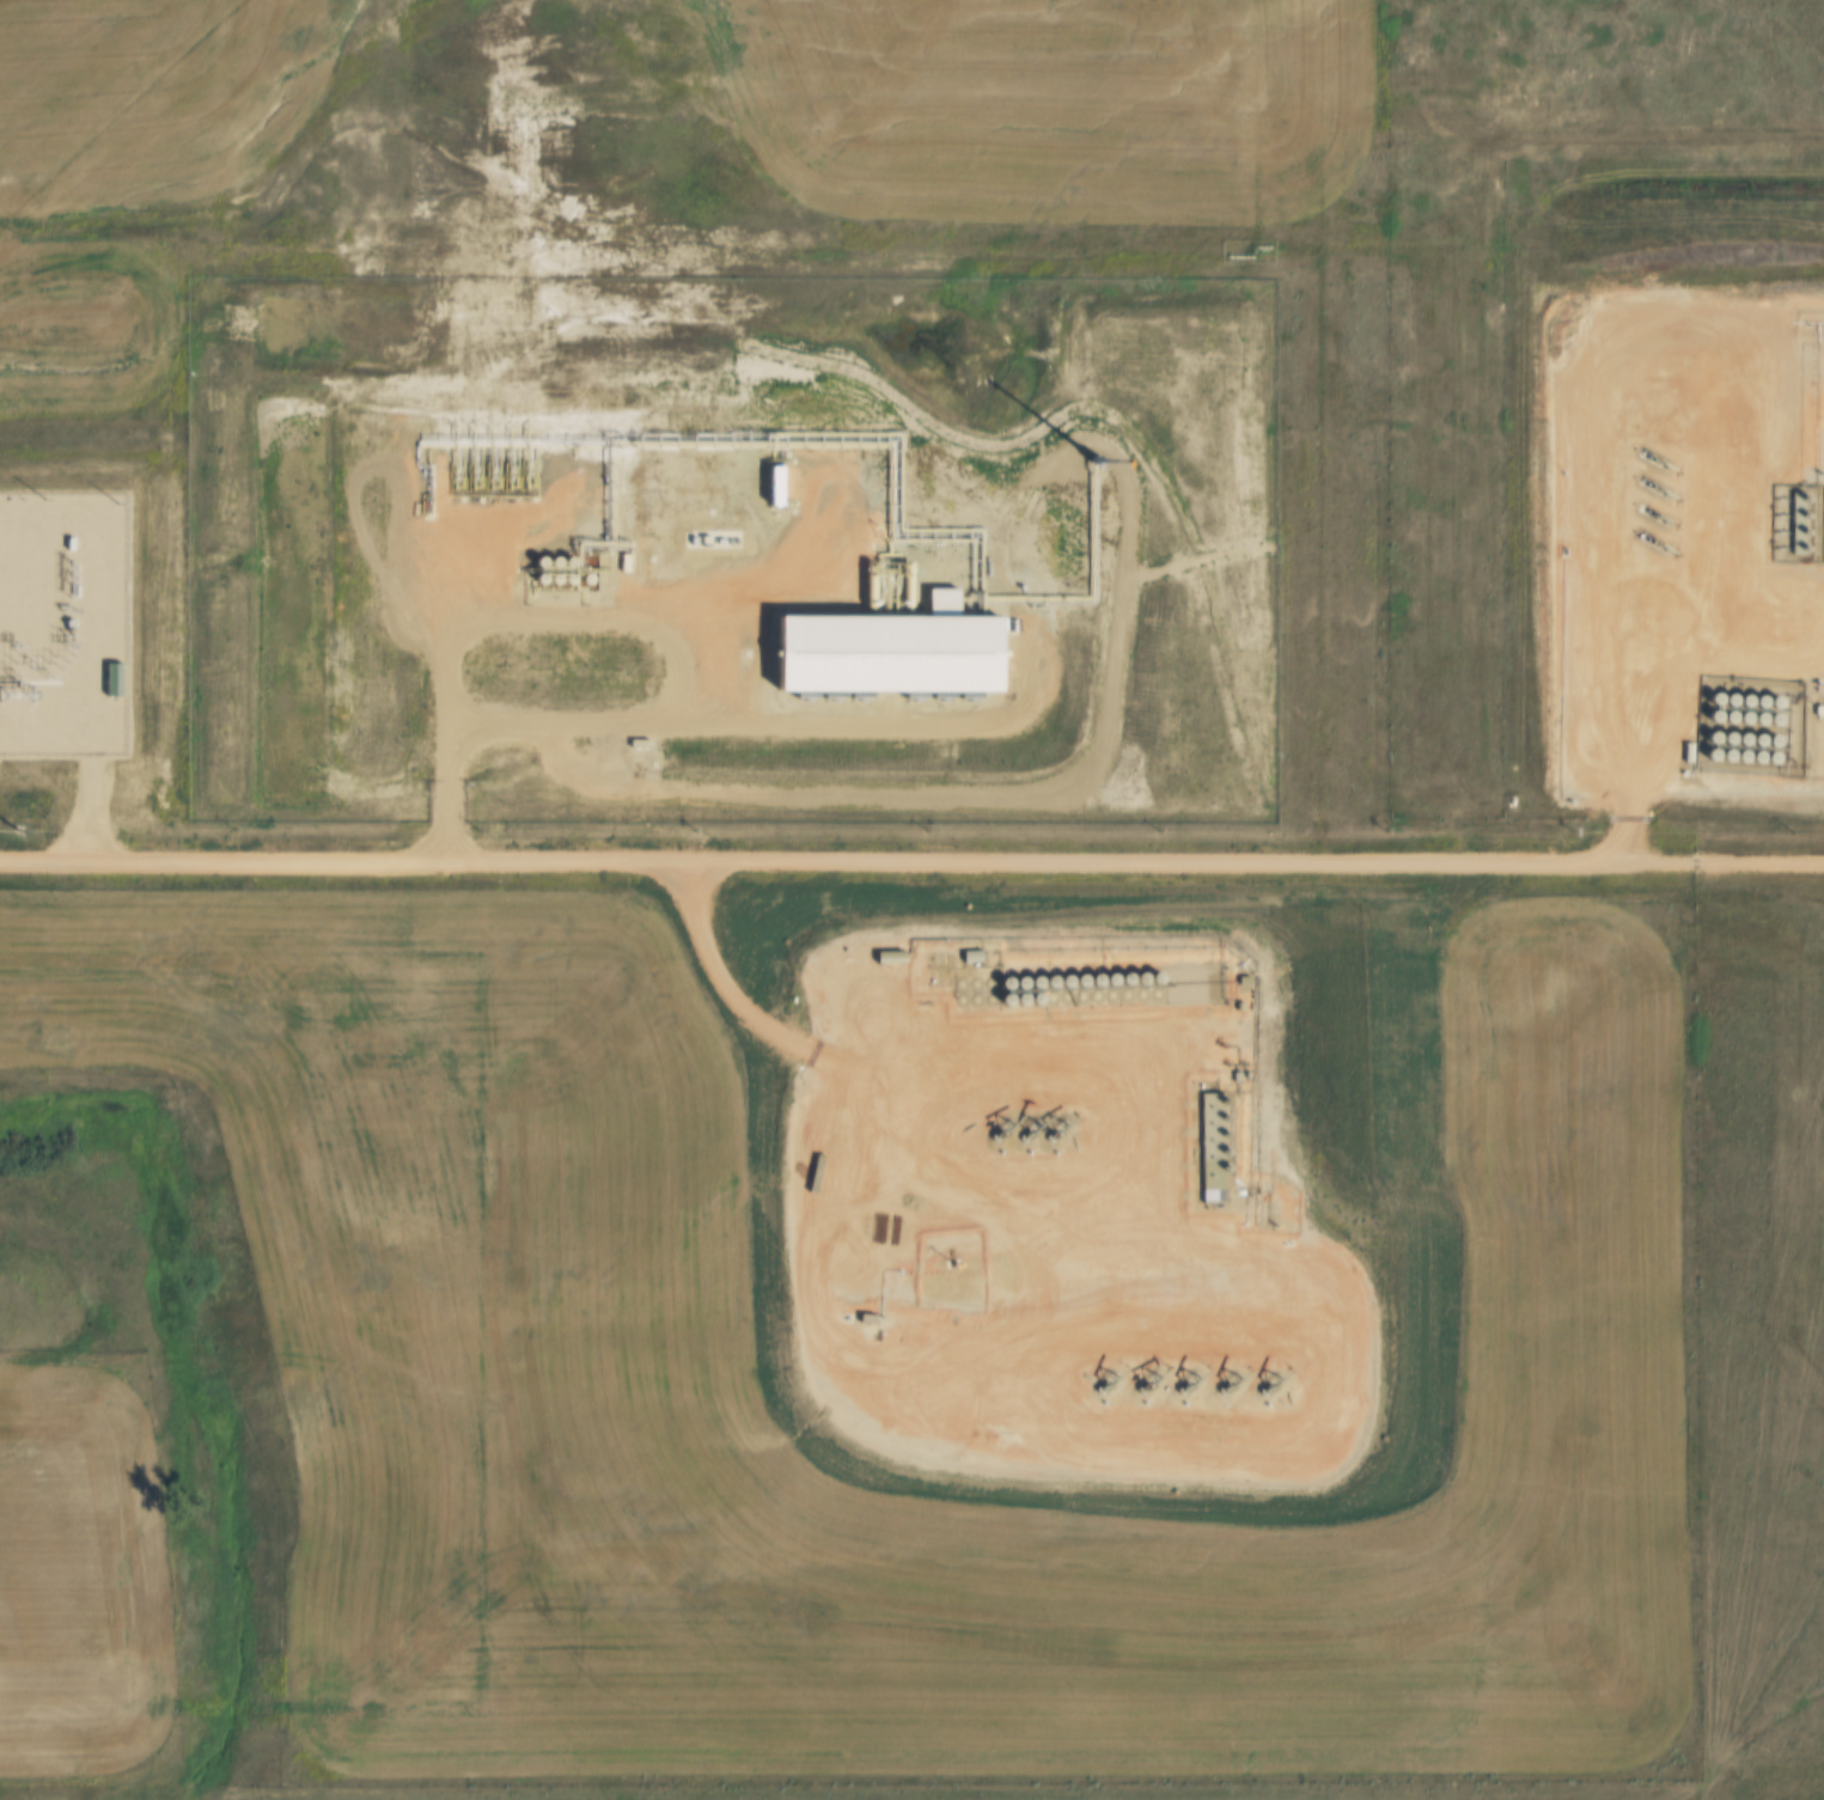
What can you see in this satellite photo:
power substation: (59, 621)
building: (105, 677)

